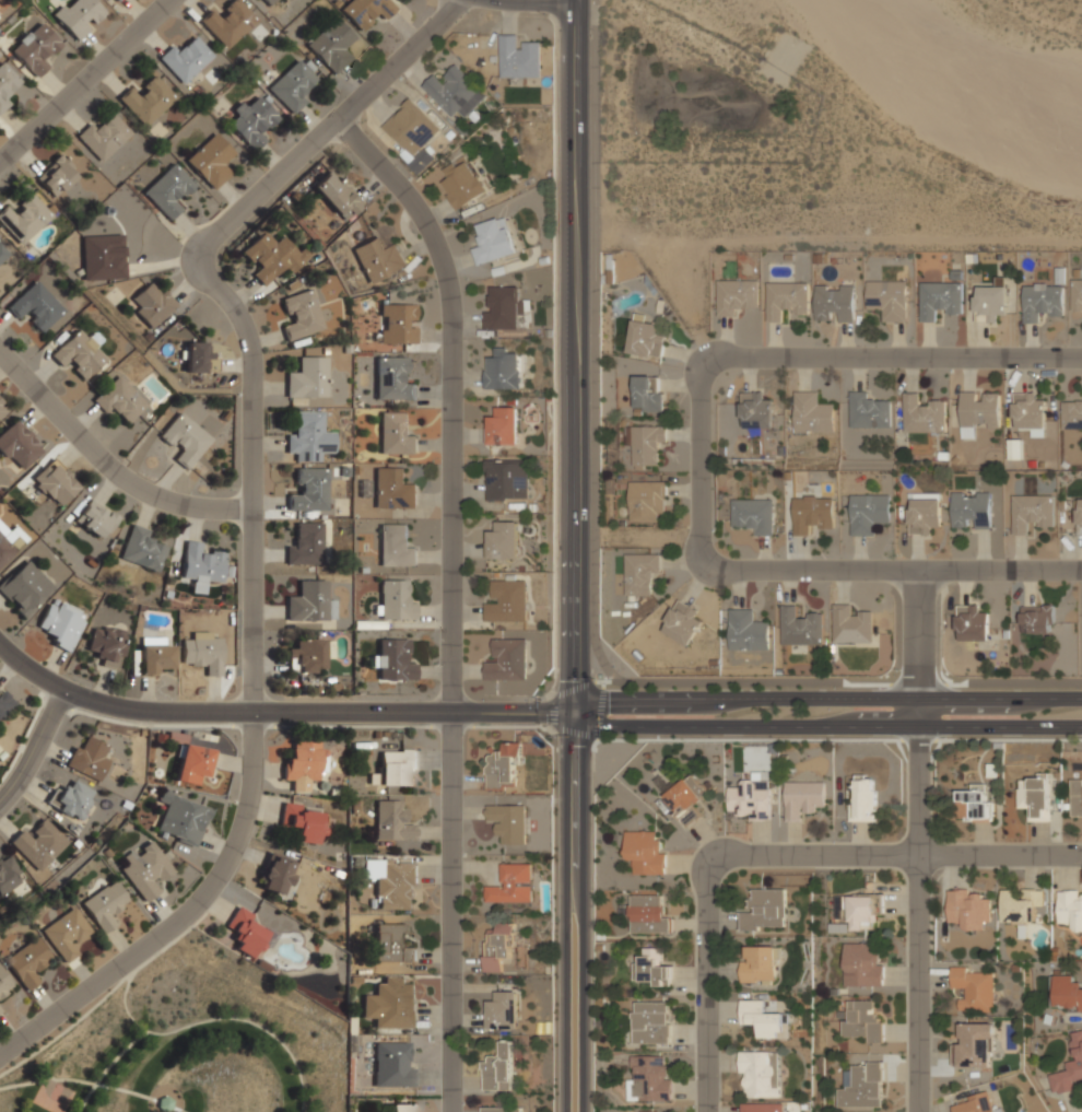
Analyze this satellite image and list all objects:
building: (117, 0)
building: (268, 2)
building: (365, 10)
building: (79, 16)
building: (227, 22)
building: (332, 45)
building: (35, 48)
building: (518, 58)
building: (185, 59)
river: (960, 63)
building: (7, 83)
road: (87, 84)
building: (293, 84)
building: (454, 92)
building: (146, 100)
building: (252, 121)
building: (412, 132)
building: (105, 136)
building: (211, 160)
building: (57, 175)
building: (463, 184)
building: (168, 190)
building: (337, 194)
building: (24, 219)
building: (493, 241)
building: (2, 254)
building: (270, 256)
building: (103, 257)
building: (378, 258)
building: (734, 295)
building: (1077, 295)
building: (887, 299)
building: (939, 299)
building: (785, 300)
building: (1043, 302)
building: (152, 304)
building: (834, 304)
building: (990, 304)
building: (35, 305)
building: (503, 309)
building: (301, 315)
building: (397, 324)
road: (591, 339)
building: (646, 340)
road: (553, 347)
building: (79, 352)
road: (574, 352)
building: (199, 356)
building: (503, 372)
building: (307, 377)
building: (392, 379)
building: (647, 394)
building: (121, 399)
building: (2, 409)
building: (755, 410)
building: (979, 410)
building: (868, 411)
building: (812, 412)
building: (1027, 413)
building: (922, 414)
building: (1071, 417)
building: (503, 425)
building: (305, 434)
building: (396, 434)
building: (185, 440)
building: (17, 445)
building: (646, 446)
road: (107, 461)
road: (701, 463)
building: (506, 480)
building: (55, 482)
building: (393, 489)
building: (309, 491)
building: (646, 501)
building: (971, 512)
building: (869, 513)
building: (1031, 513)
building: (813, 514)
building: (753, 516)
building: (922, 516)
building: (1079, 517)
building: (96, 518)
road: (254, 524)
building: (504, 541)
building: (305, 543)
building: (395, 546)
building: (5, 549)
building: (142, 549)
building: (201, 566)
building: (639, 573)
building: (24, 588)
road: (450, 597)
building: (396, 601)
building: (309, 602)
building: (507, 602)
building: (1037, 619)
building: (681, 622)
building: (61, 623)
building: (972, 623)
building: (851, 625)
building: (800, 628)
building: (746, 630)
building: (106, 645)
road: (917, 645)
building: (203, 652)
building: (306, 656)
building: (154, 658)
building: (393, 660)
building: (507, 660)
street lamp: (898, 670)
road: (827, 694)
building: (4, 703)
traffic signals: (575, 706)
road: (278, 707)
road: (825, 723)
road: (560, 729)
street lamp: (946, 739)
road: (34, 746)
building: (87, 759)
building: (193, 764)
building: (302, 765)
building: (503, 765)
building: (398, 768)
building: (863, 797)
building: (1034, 797)
building: (803, 798)
building: (72, 799)
building: (750, 799)
building: (1077, 799)
building: (685, 800)
building: (973, 804)
building: (183, 818)
building: (303, 821)
building: (392, 821)
building: (507, 823)
building: (39, 845)
building: (644, 852)
road: (772, 855)
building: (144, 870)
building: (277, 874)
building: (9, 875)
building: (392, 881)
building: (511, 886)
building: (106, 904)
road: (565, 908)
road: (584, 908)
building: (1023, 908)
building: (967, 909)
building: (1070, 909)
building: (764, 910)
building: (857, 910)
building: (647, 914)
road: (918, 916)
building: (246, 932)
building: (66, 934)
street lamp: (720, 939)
building: (391, 944)
building: (498, 949)
building: (28, 961)
building: (758, 964)
building: (861, 964)
building: (652, 969)
building: (4, 983)
building: (974, 990)
road: (109, 992)
building: (1066, 994)
building: (391, 1003)
building: (1, 1007)
building: (502, 1010)
road: (220, 1019)
building: (765, 1020)
building: (650, 1022)
building: (861, 1022)
park: (186, 1042)
building: (975, 1045)
building: (392, 1065)
road: (106, 1067)
building: (1069, 1068)
building: (498, 1069)
building: (760, 1074)
building: (649, 1079)
road: (90, 1082)
building: (861, 1086)
building: (54, 1096)
building: (975, 1103)
building: (762, 1107)
building: (402, 1108)
building: (502, 1109)
building: (1000, 1110)

